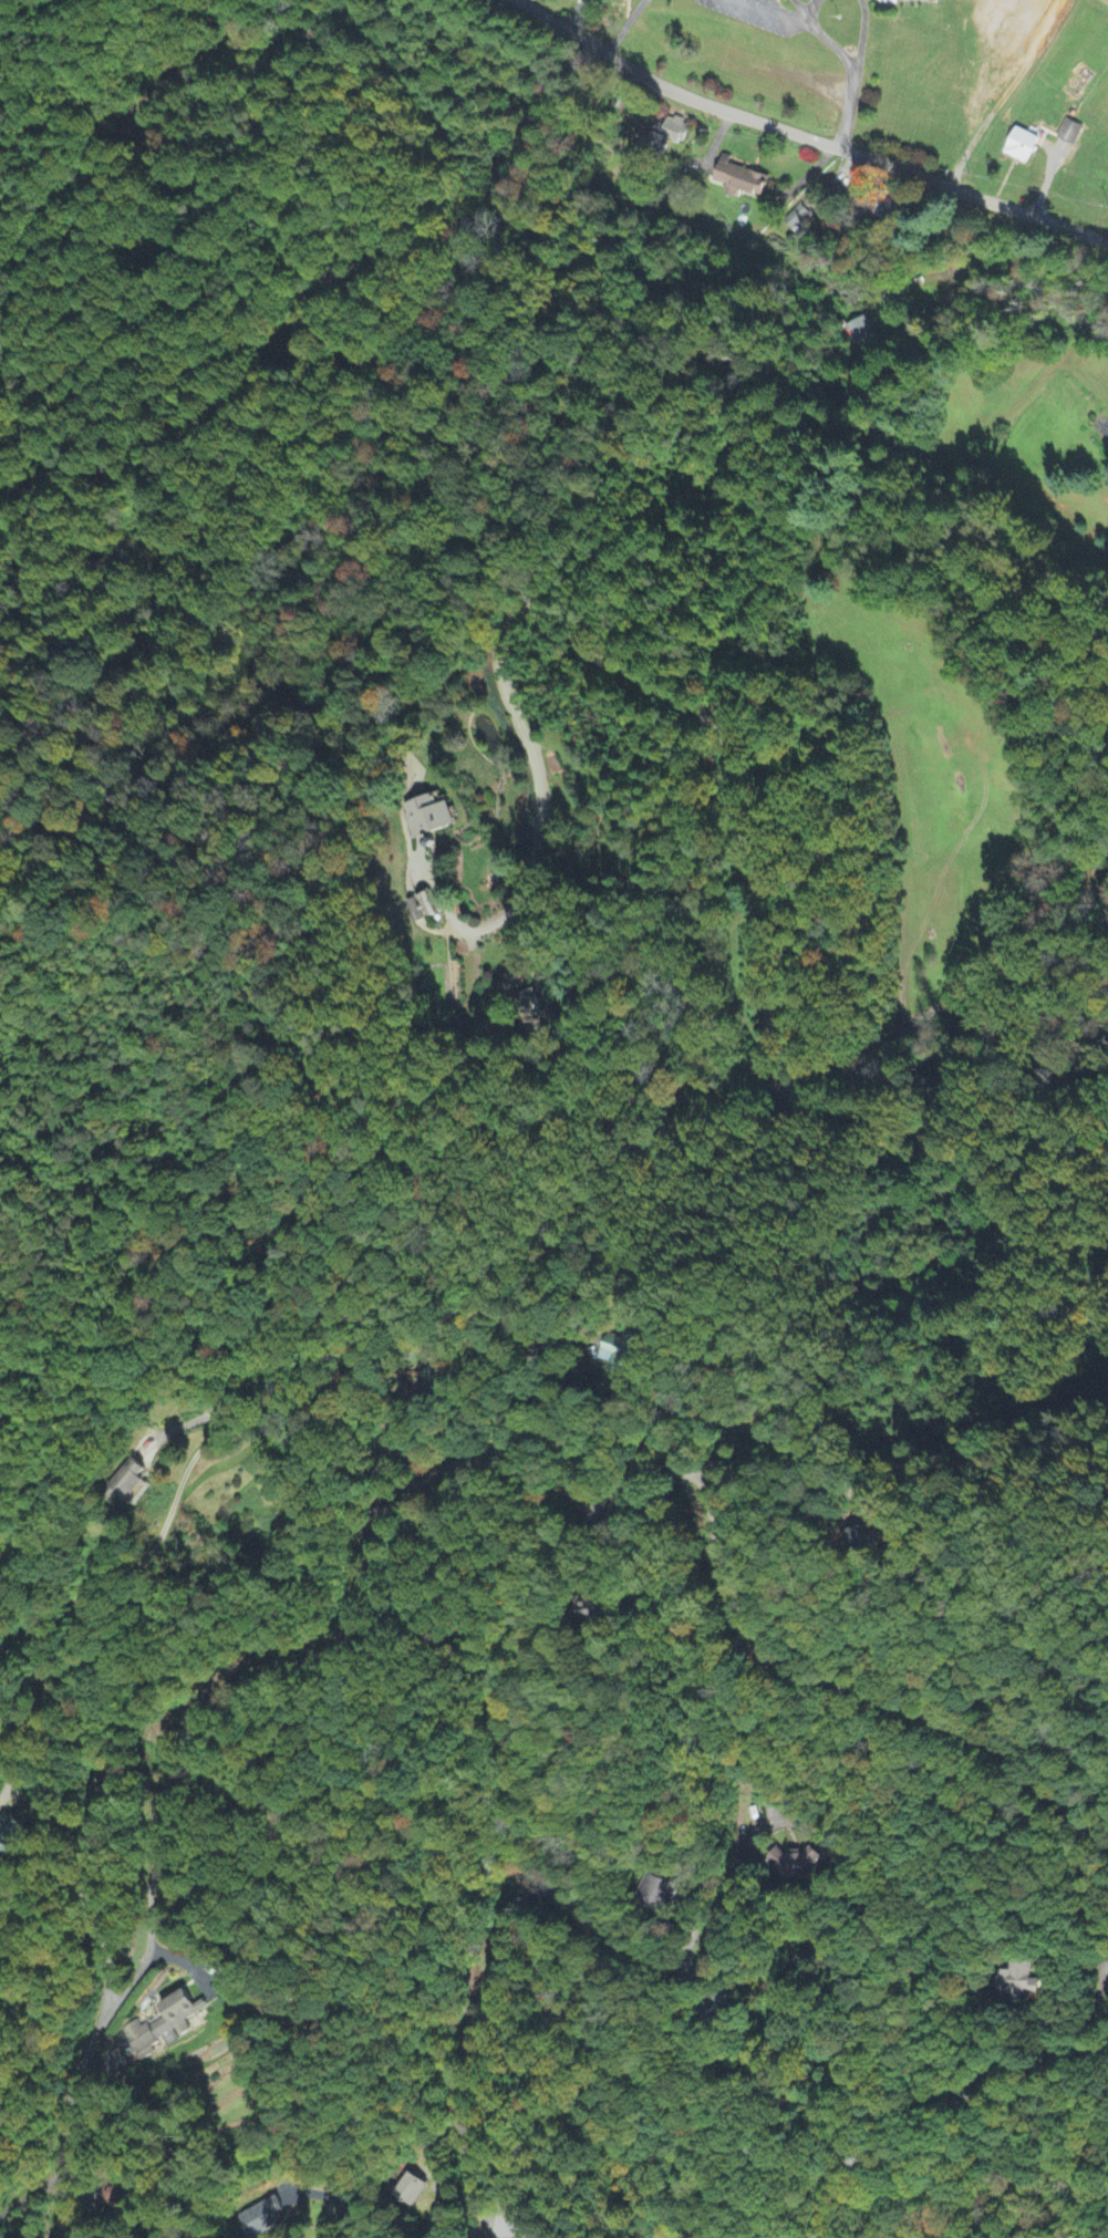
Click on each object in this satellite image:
road: (766, 9)
road: (625, 28)
road: (851, 70)
road: (136, 94)
road: (1024, 100)
building: (1070, 133)
building: (662, 137)
road: (805, 137)
building: (1022, 146)
building: (738, 179)
building: (797, 218)
road: (994, 418)
road: (1058, 429)
road: (731, 758)
road: (1104, 1295)
building: (622, 1356)
road: (1049, 1408)
road: (411, 1484)
road: (35, 1679)
road: (477, 1760)
building: (11, 1835)
building: (661, 1890)
road: (713, 1937)
building: (1016, 1980)
road: (1096, 2008)
building: (163, 2024)
road: (682, 2044)
road: (30, 2190)
building: (261, 2218)

